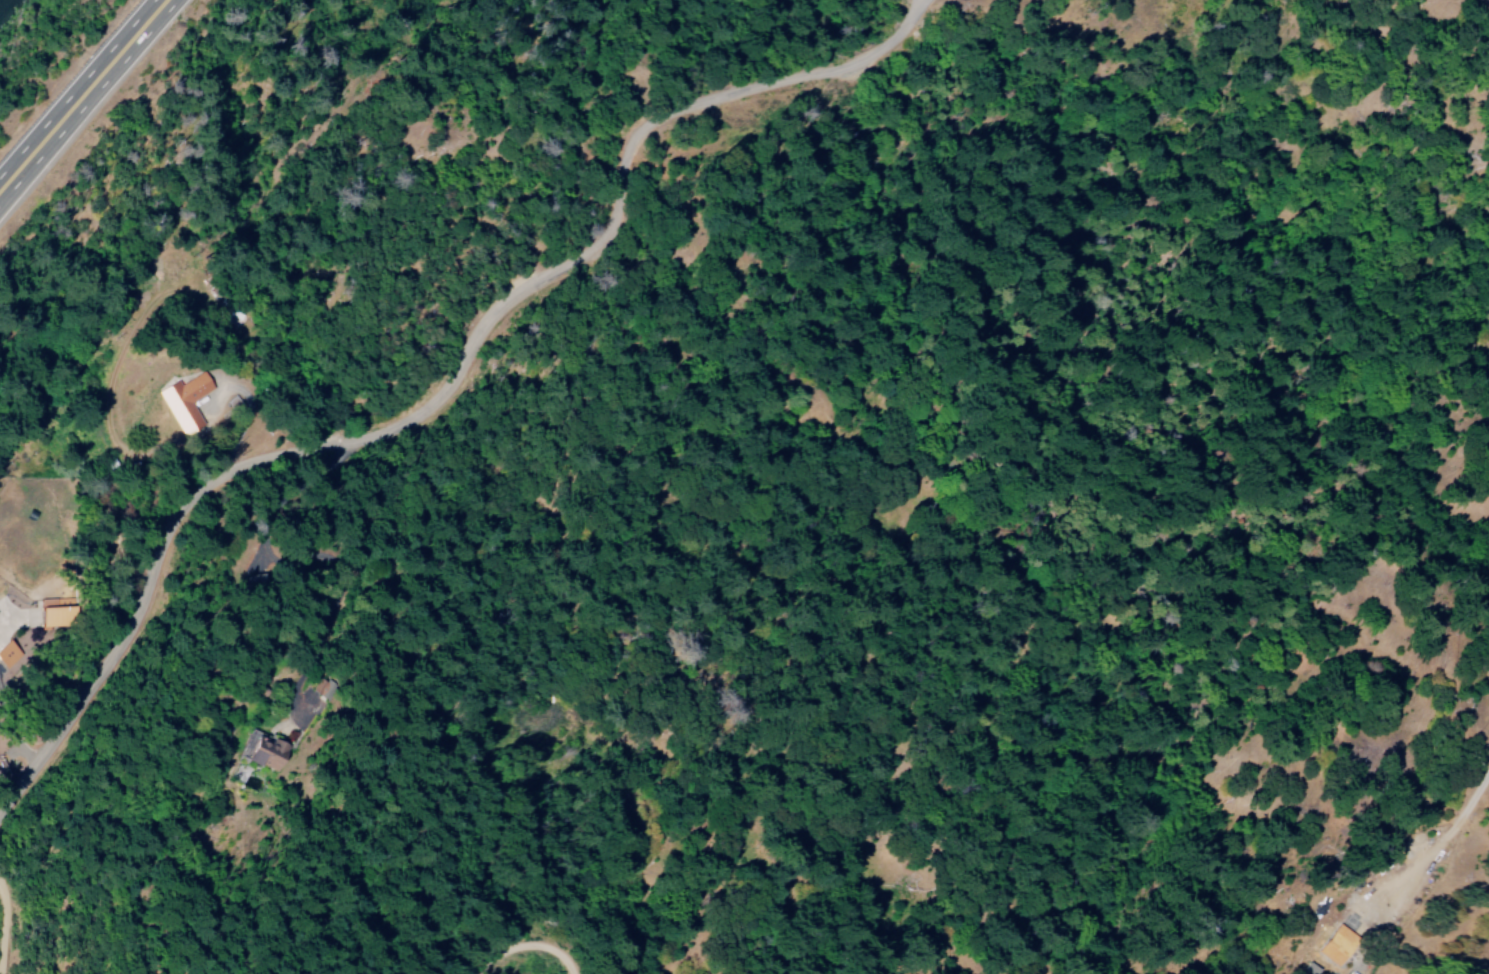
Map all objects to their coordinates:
road: (83, 96)
road: (449, 388)
building: (185, 401)
building: (53, 612)
building: (8, 654)
road: (757, 672)
building: (263, 752)
building: (11, 757)
building: (1343, 943)

